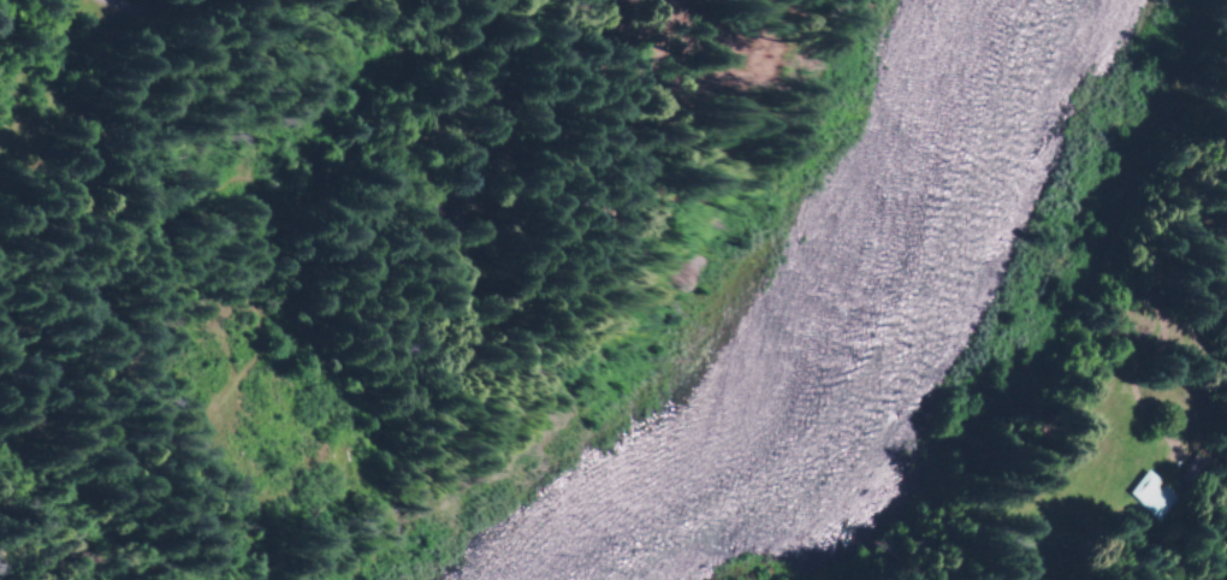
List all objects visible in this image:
road: (129, 6)
river: (840, 321)
building: (1152, 497)

